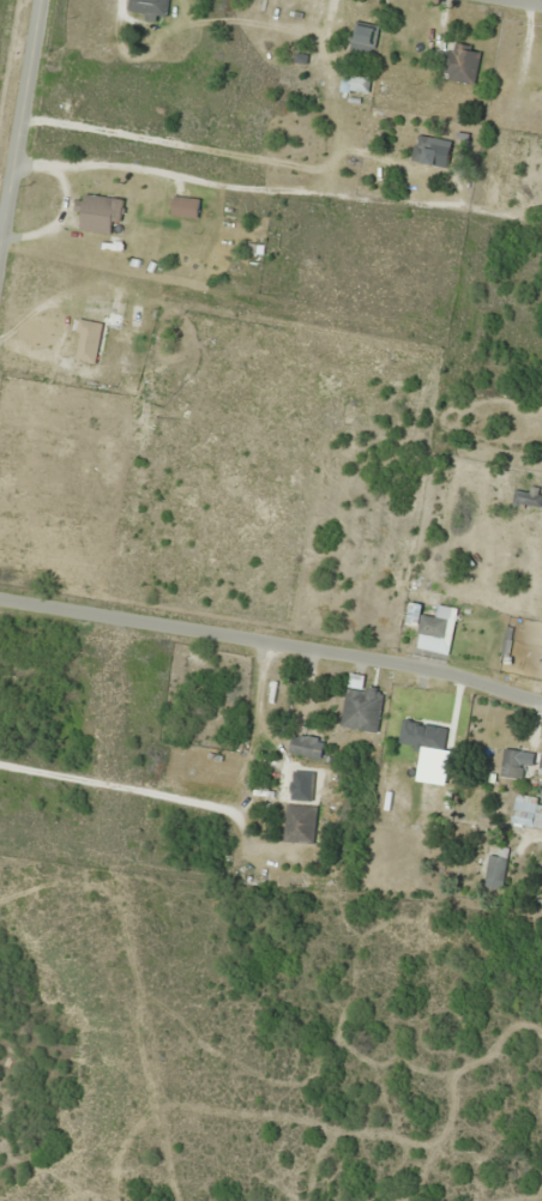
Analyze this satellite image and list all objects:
road: (526, 2)
building: (147, 7)
building: (365, 38)
building: (460, 65)
building: (359, 84)
building: (535, 91)
road: (23, 135)
building: (432, 152)
road: (281, 192)
building: (185, 207)
building: (100, 213)
building: (88, 342)
building: (528, 497)
road: (271, 646)
building: (361, 710)
building: (302, 746)
building: (511, 764)
building: (523, 810)
building: (299, 825)
building: (494, 870)

